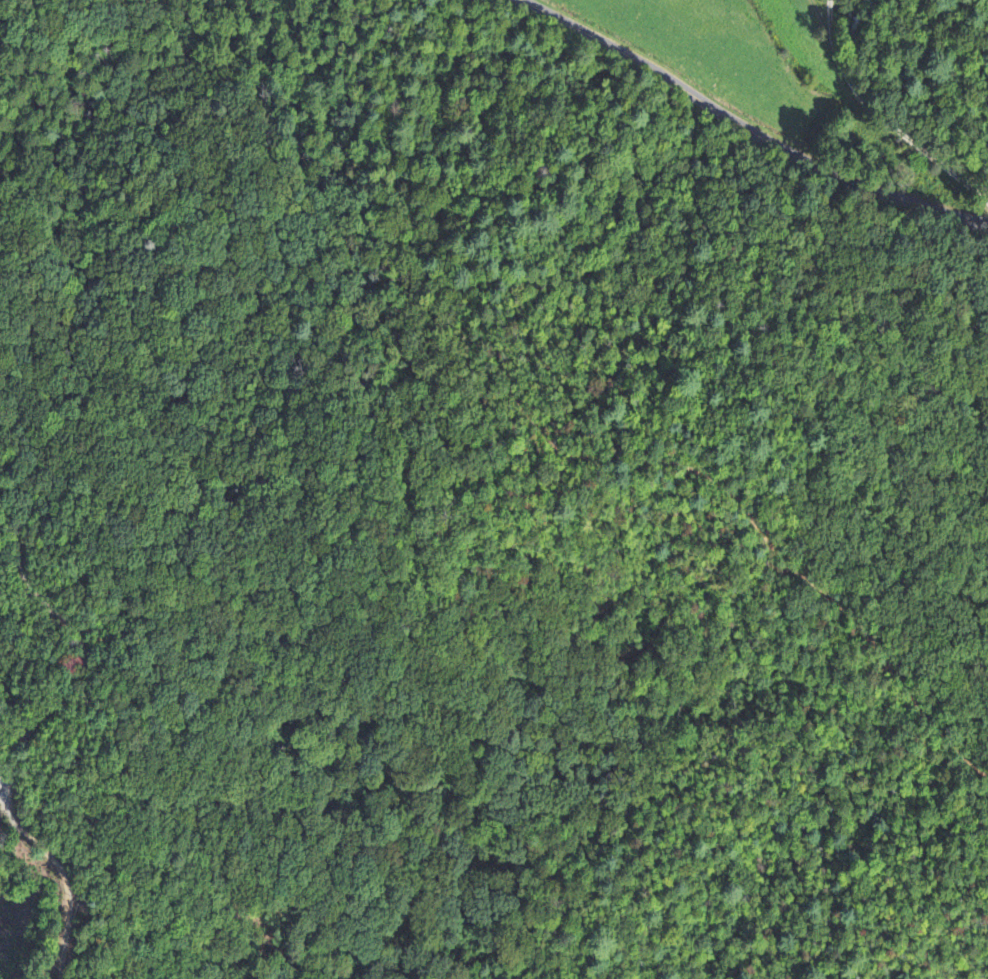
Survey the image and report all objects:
road: (833, 18)
road: (747, 129)
road: (869, 133)
road: (40, 718)

